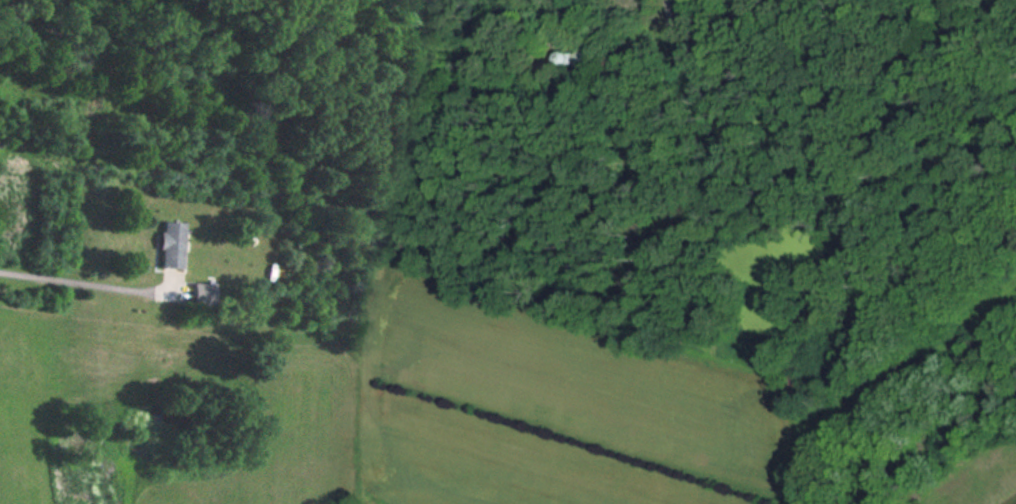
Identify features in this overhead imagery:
road: (675, 36)
building: (168, 244)
road: (92, 286)
building: (200, 291)

